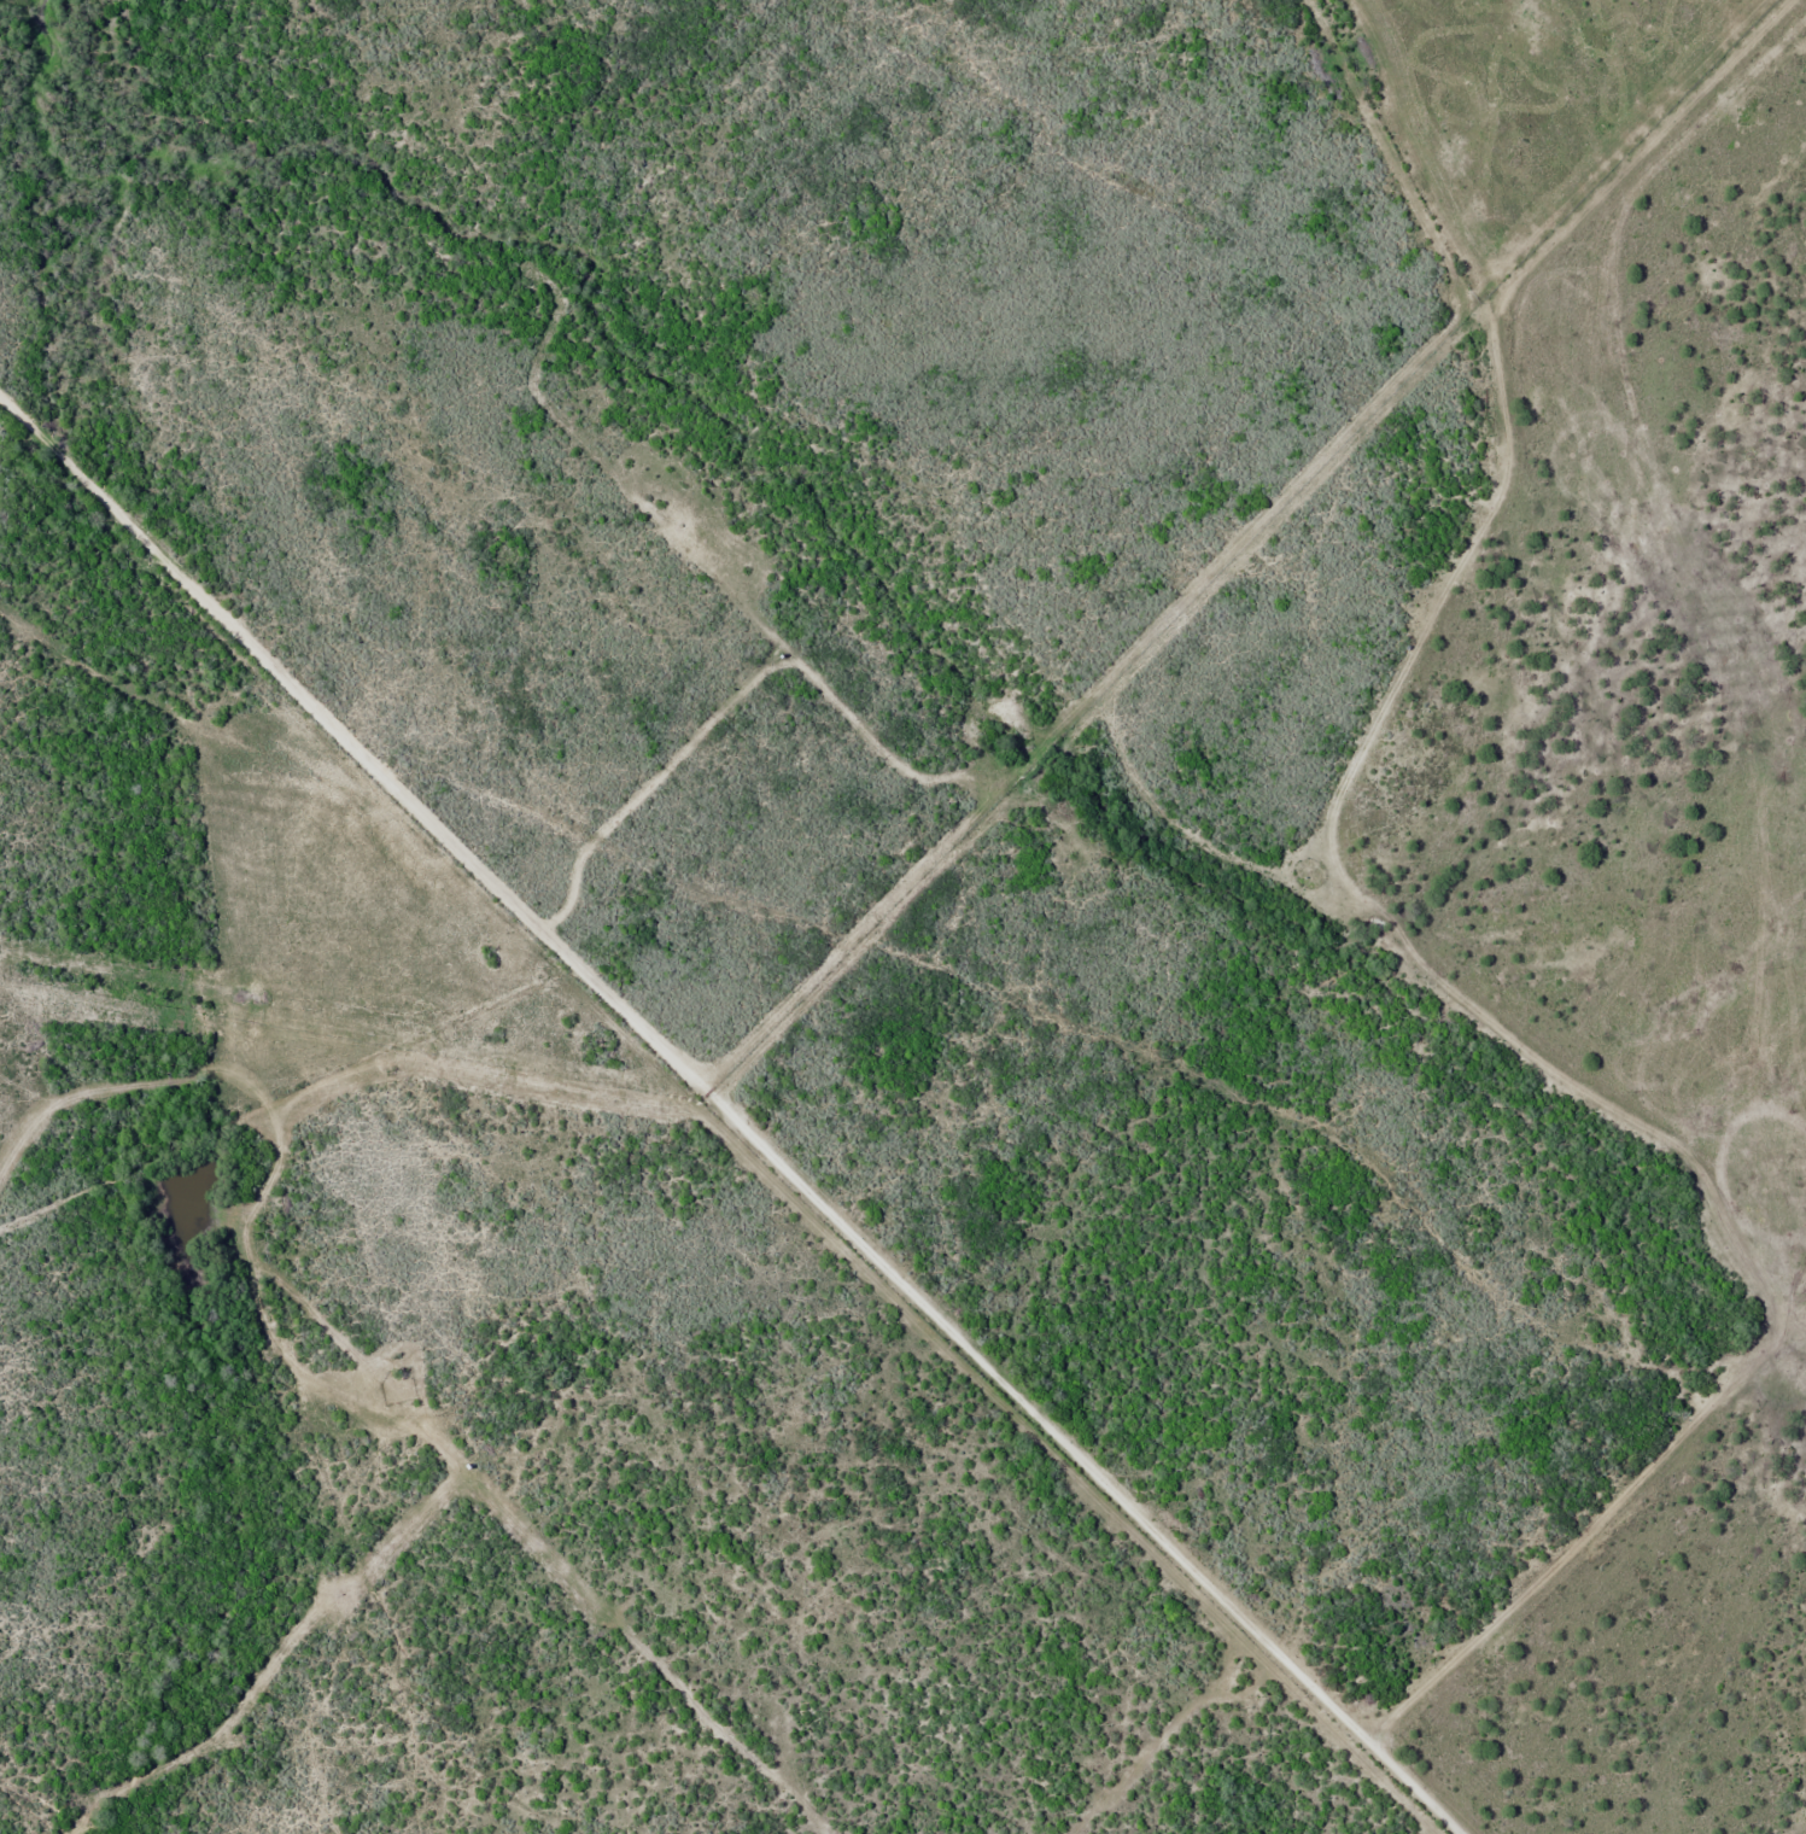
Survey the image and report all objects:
road: (888, 965)

